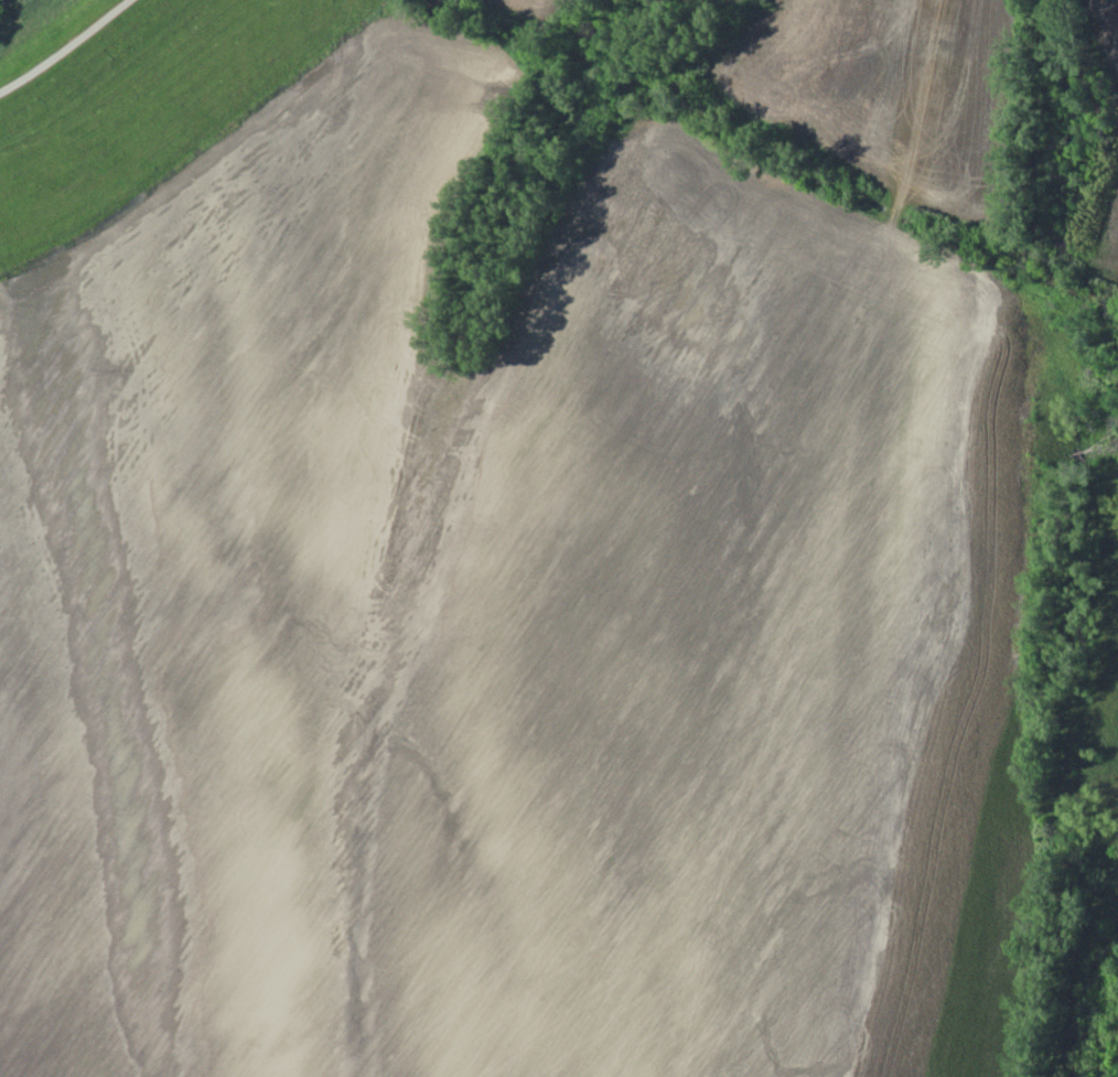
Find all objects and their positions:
crop: (515, 7)
crop: (1107, 30)
road: (60, 44)
crop: (875, 88)
crop: (1106, 246)
crop: (507, 616)

